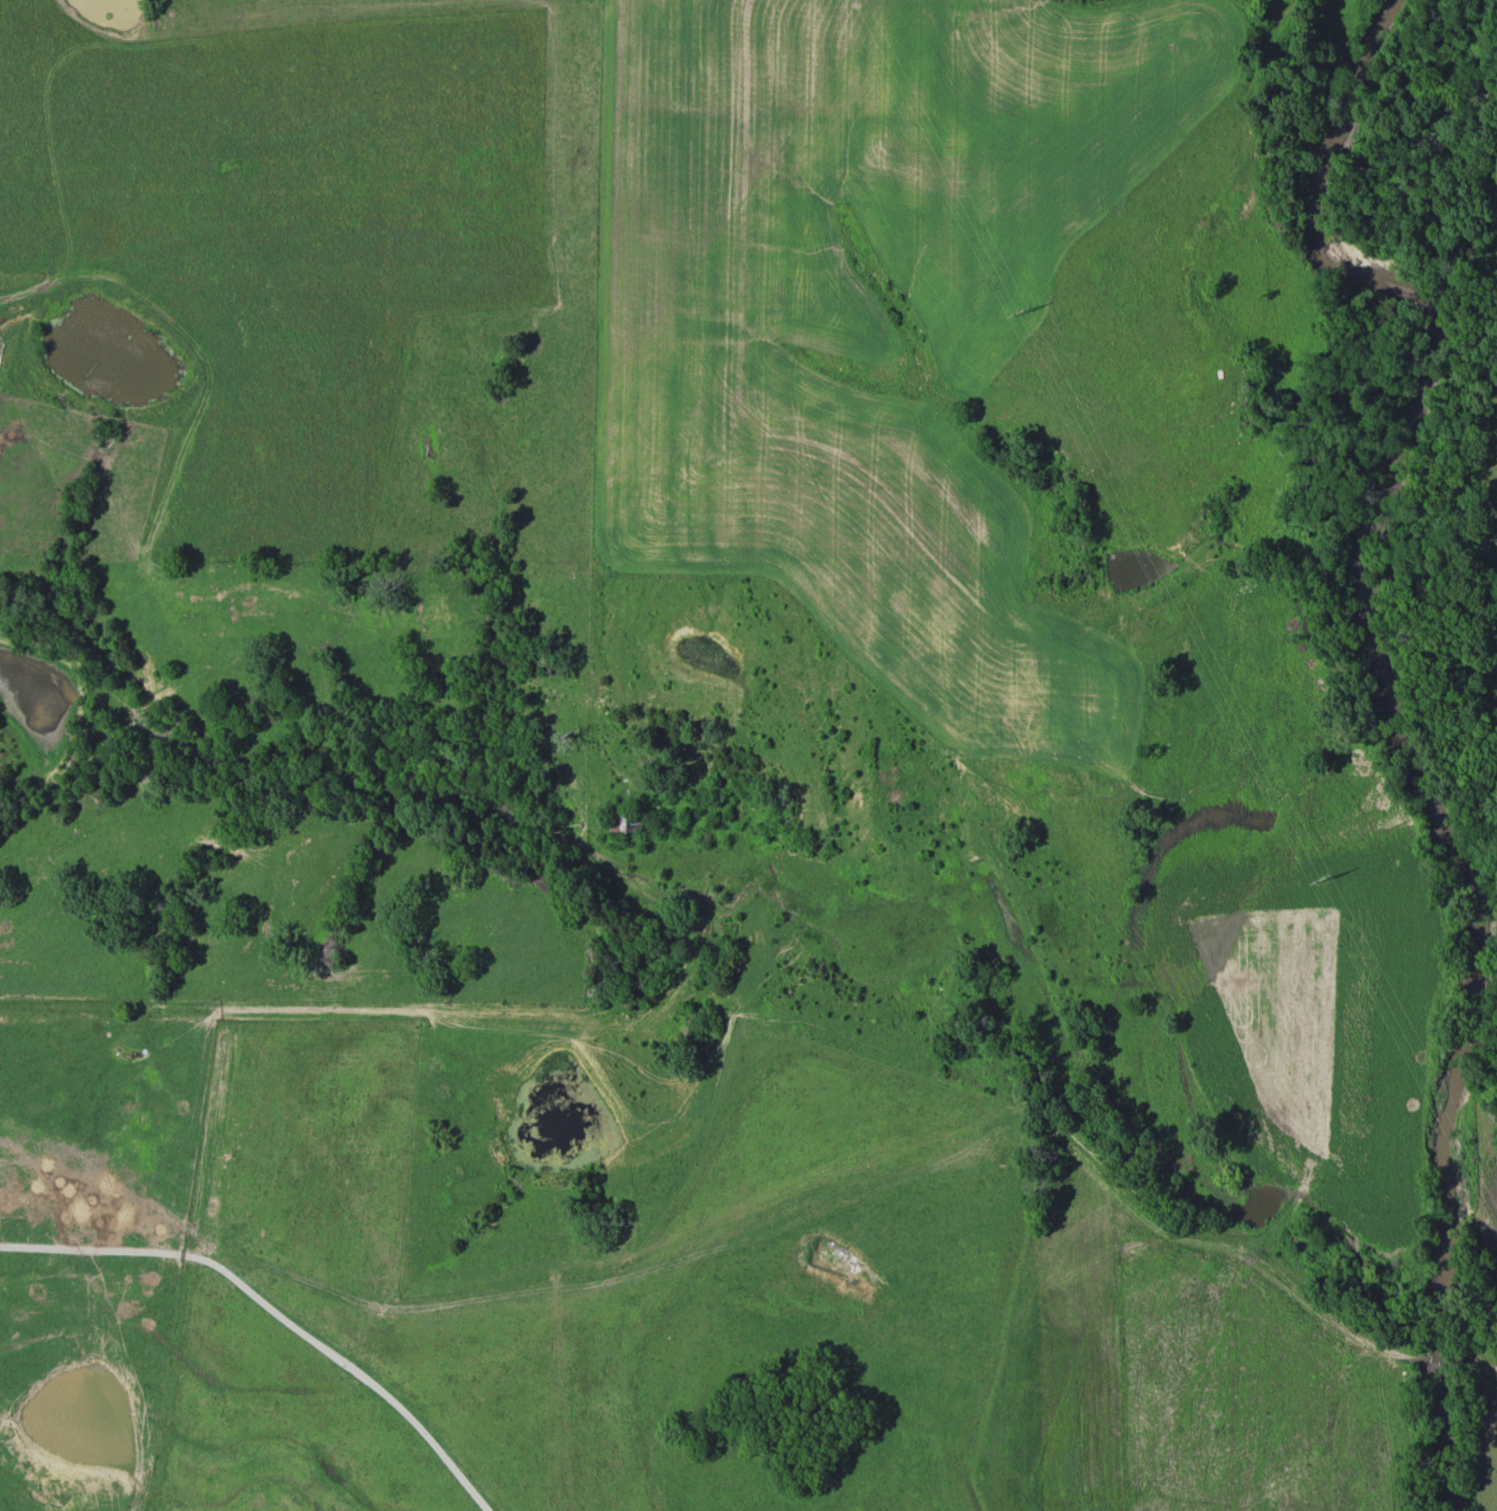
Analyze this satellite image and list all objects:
power tower: (1018, 313)
building: (628, 825)
power tower: (1319, 885)
road: (271, 1313)

